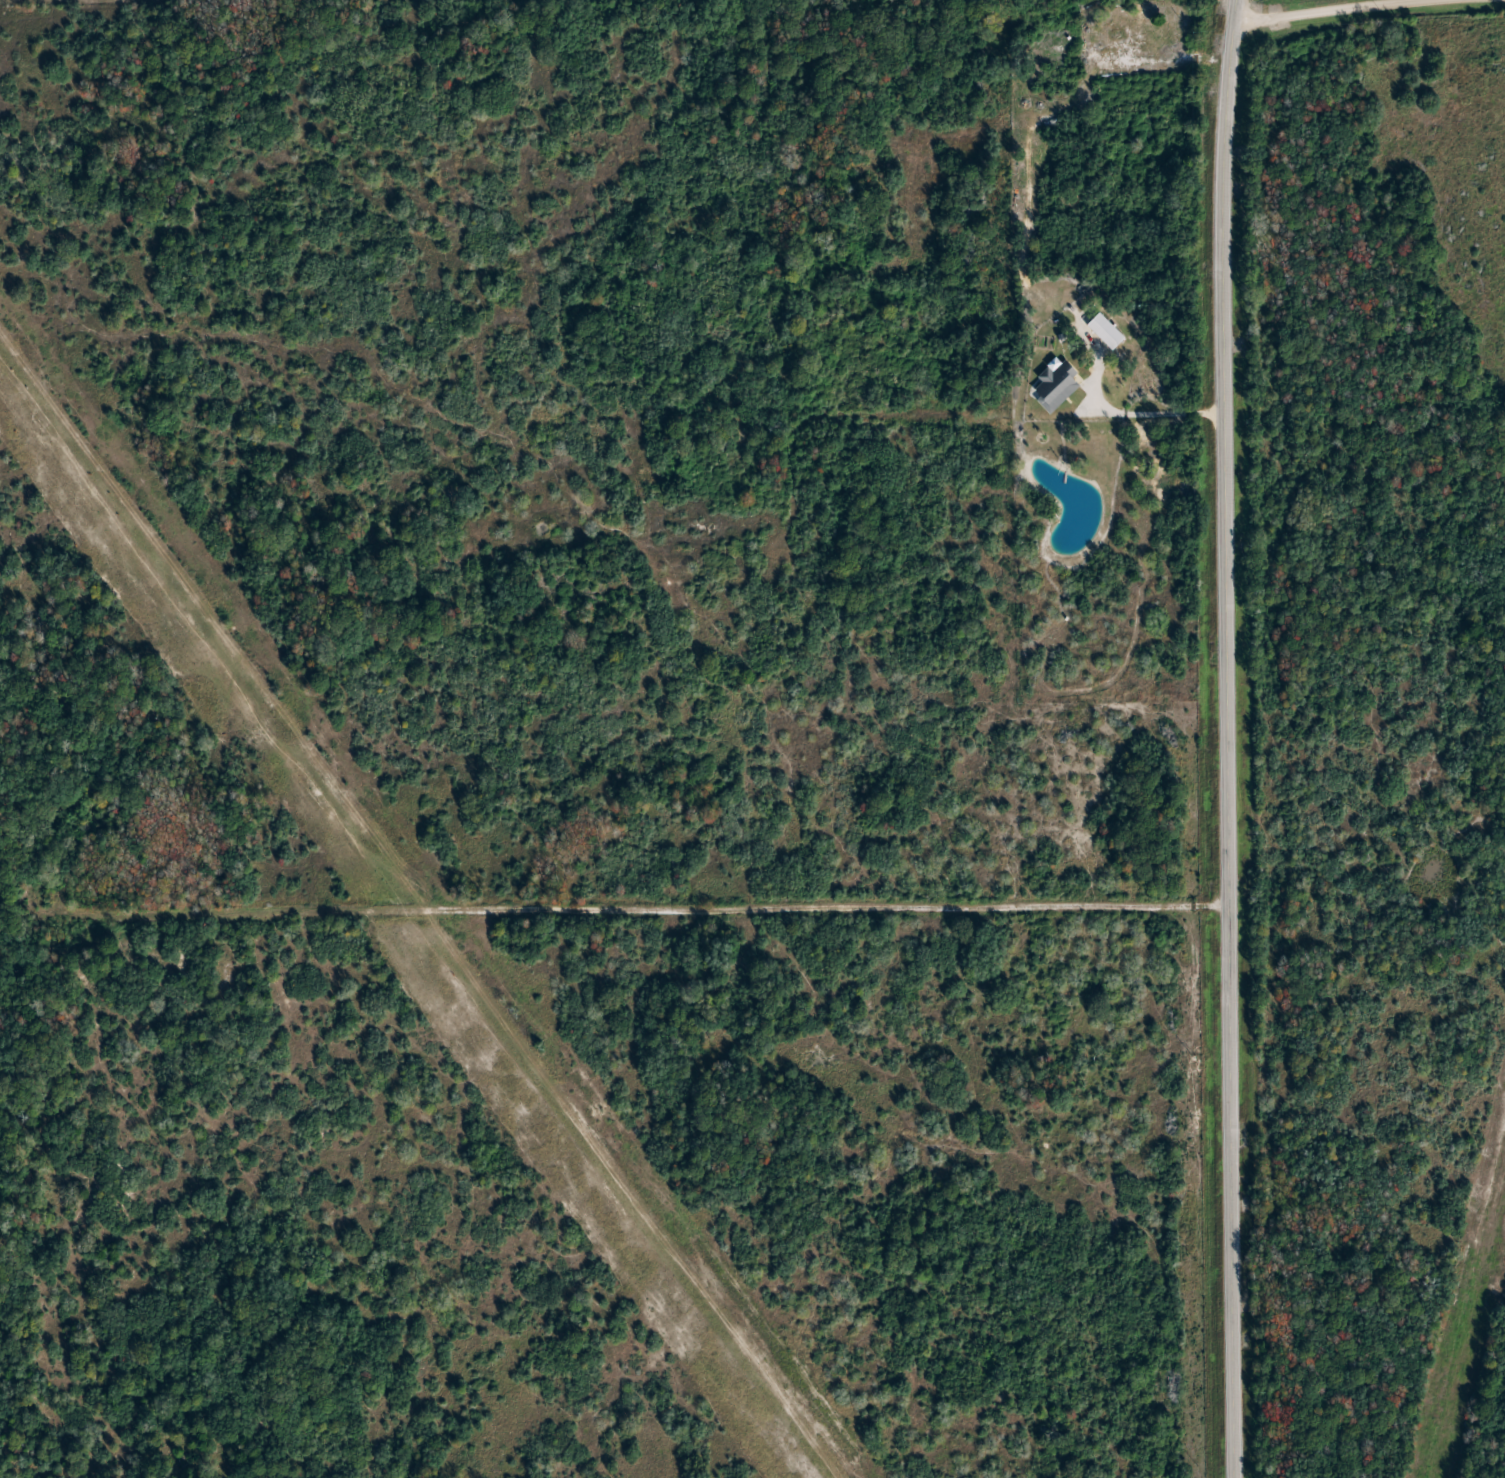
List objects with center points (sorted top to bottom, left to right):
road: (1324, 15)
building: (1108, 331)
road: (941, 407)
road: (1231, 738)
road: (674, 907)

